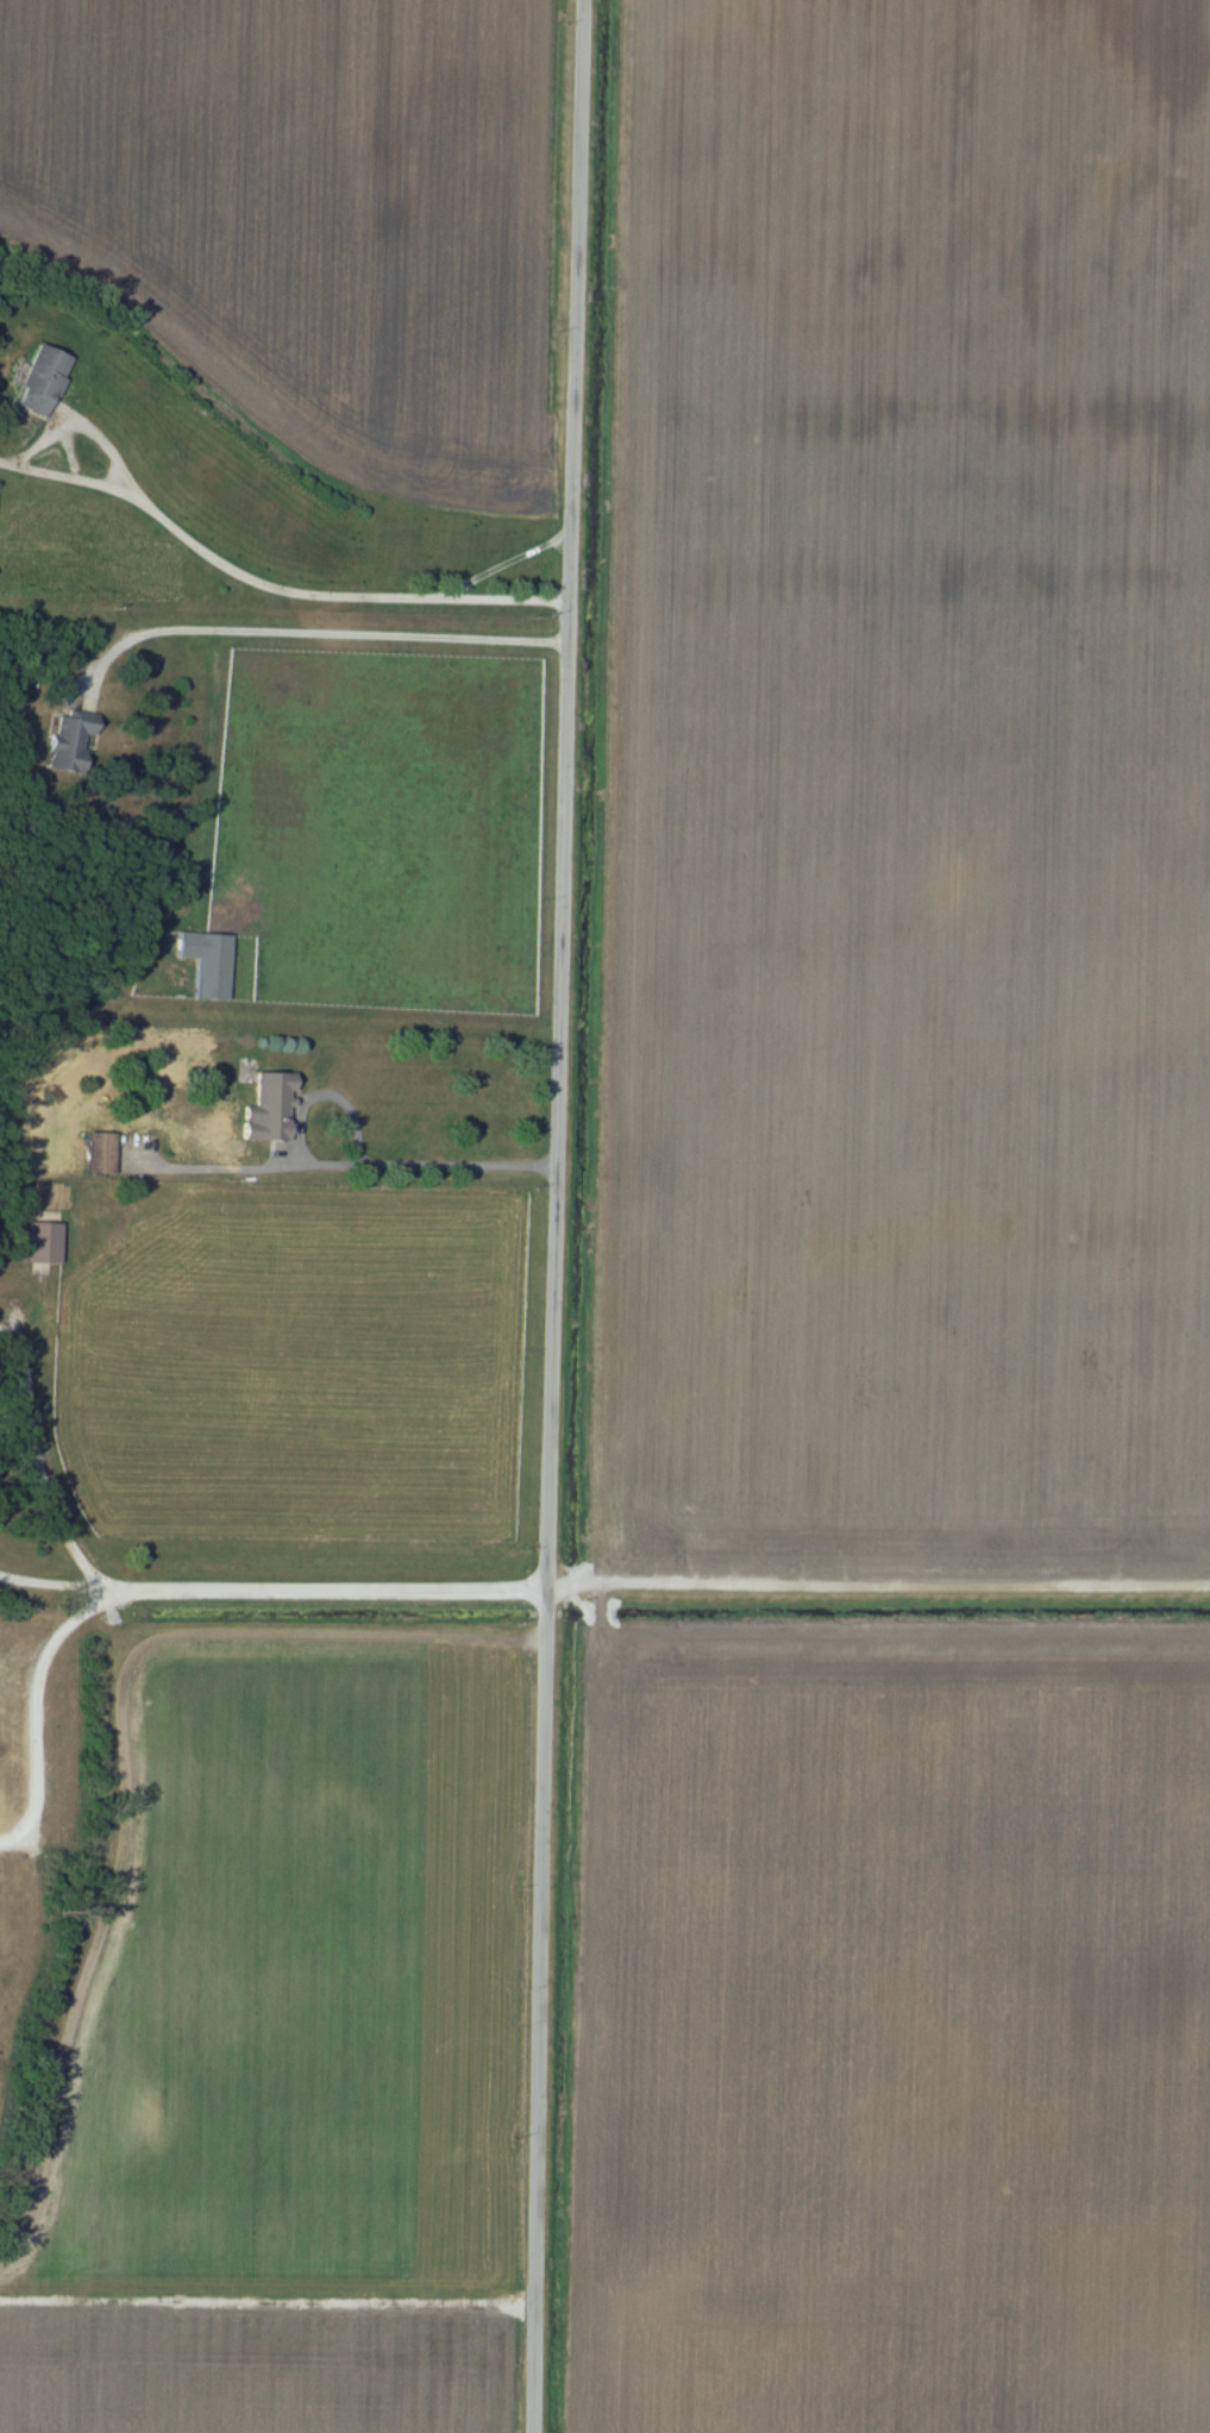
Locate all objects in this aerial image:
building: (40, 382)
road: (206, 546)
road: (507, 558)
road: (312, 629)
building: (68, 742)
building: (207, 965)
building: (267, 1110)
building: (100, 1155)
road: (345, 1164)
road: (221, 1170)
road: (553, 1216)
building: (43, 1244)
road: (54, 1586)
road: (173, 1593)
road: (36, 1713)
road: (268, 1990)

